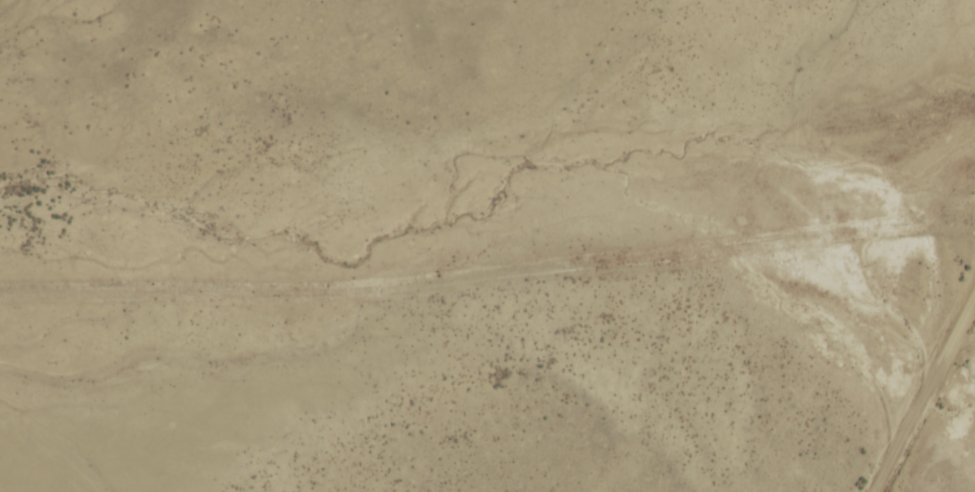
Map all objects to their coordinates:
road: (923, 392)
road: (67, 432)

